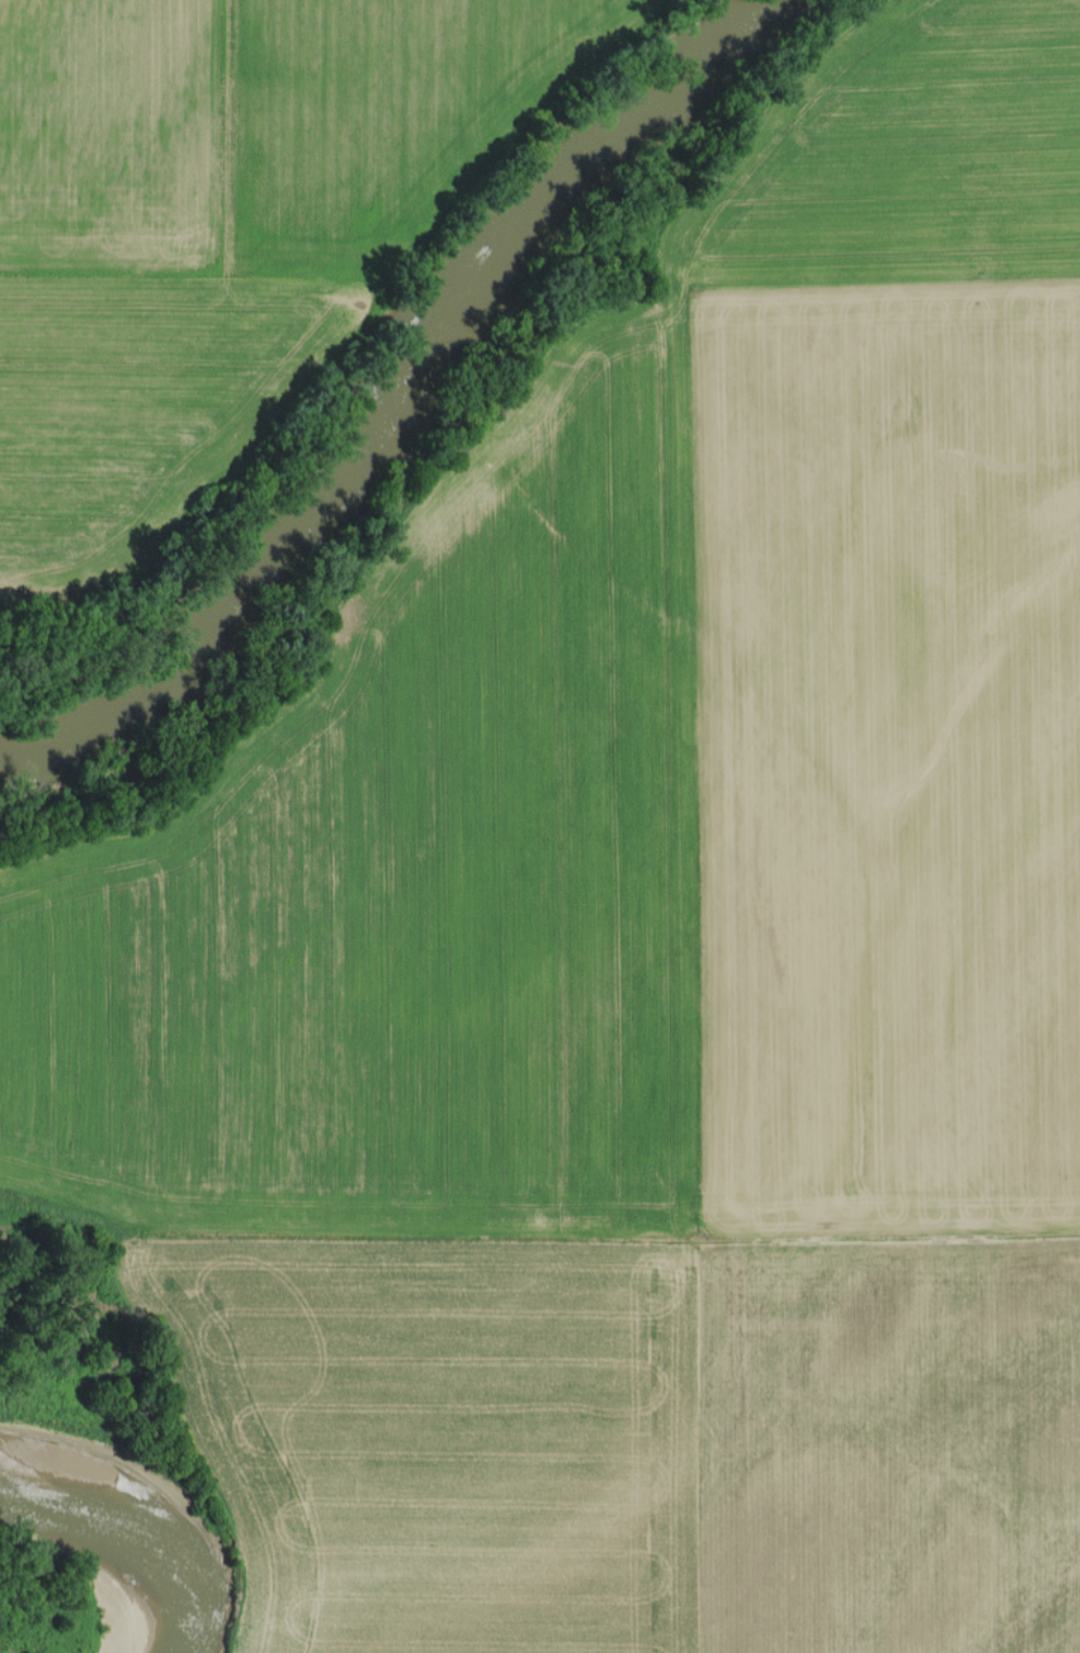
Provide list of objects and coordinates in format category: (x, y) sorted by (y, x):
river: (415, 410)
river: (153, 1508)

